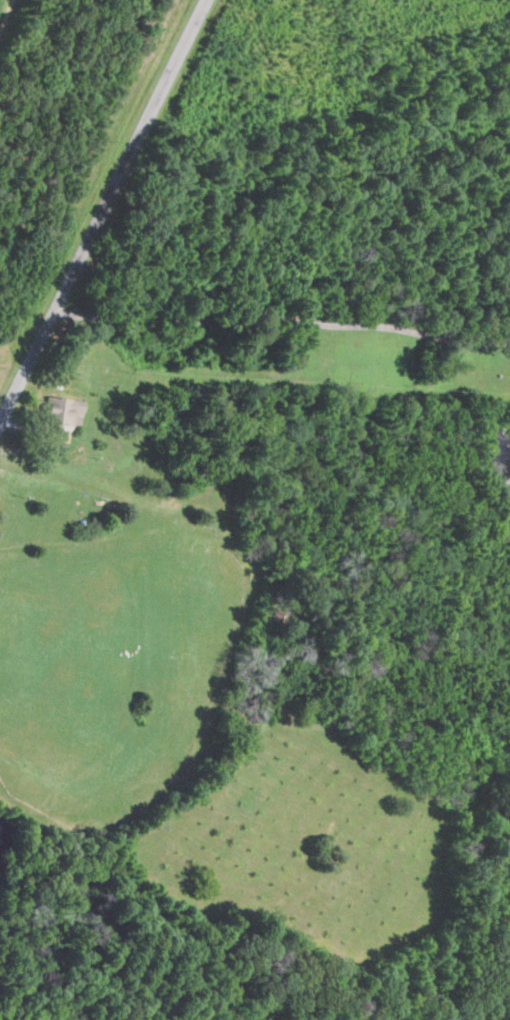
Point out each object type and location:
road: (107, 212)
road: (283, 322)
building: (61, 410)

